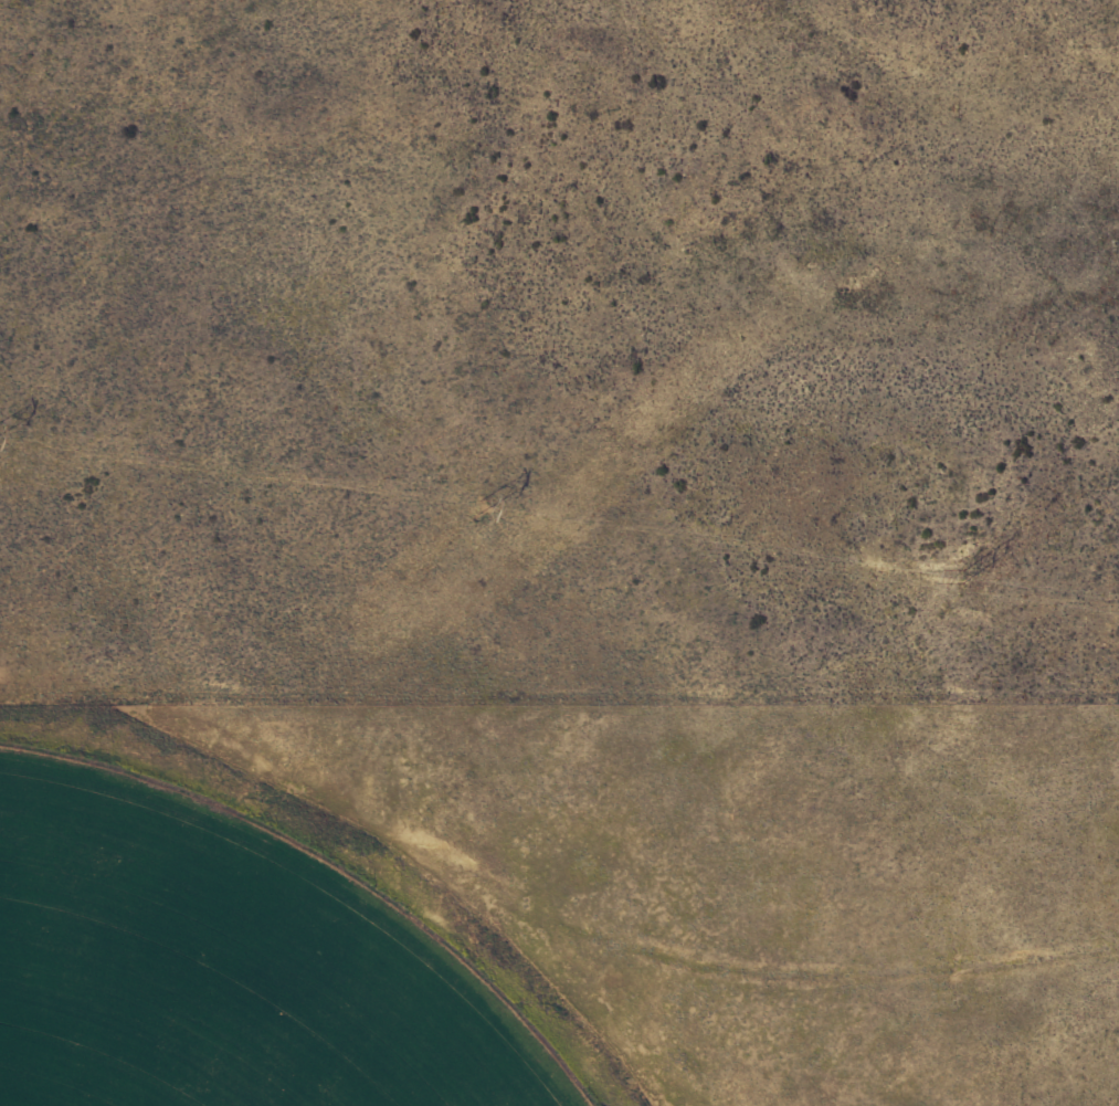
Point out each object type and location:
power tower: (477, 508)
power tower: (963, 580)

